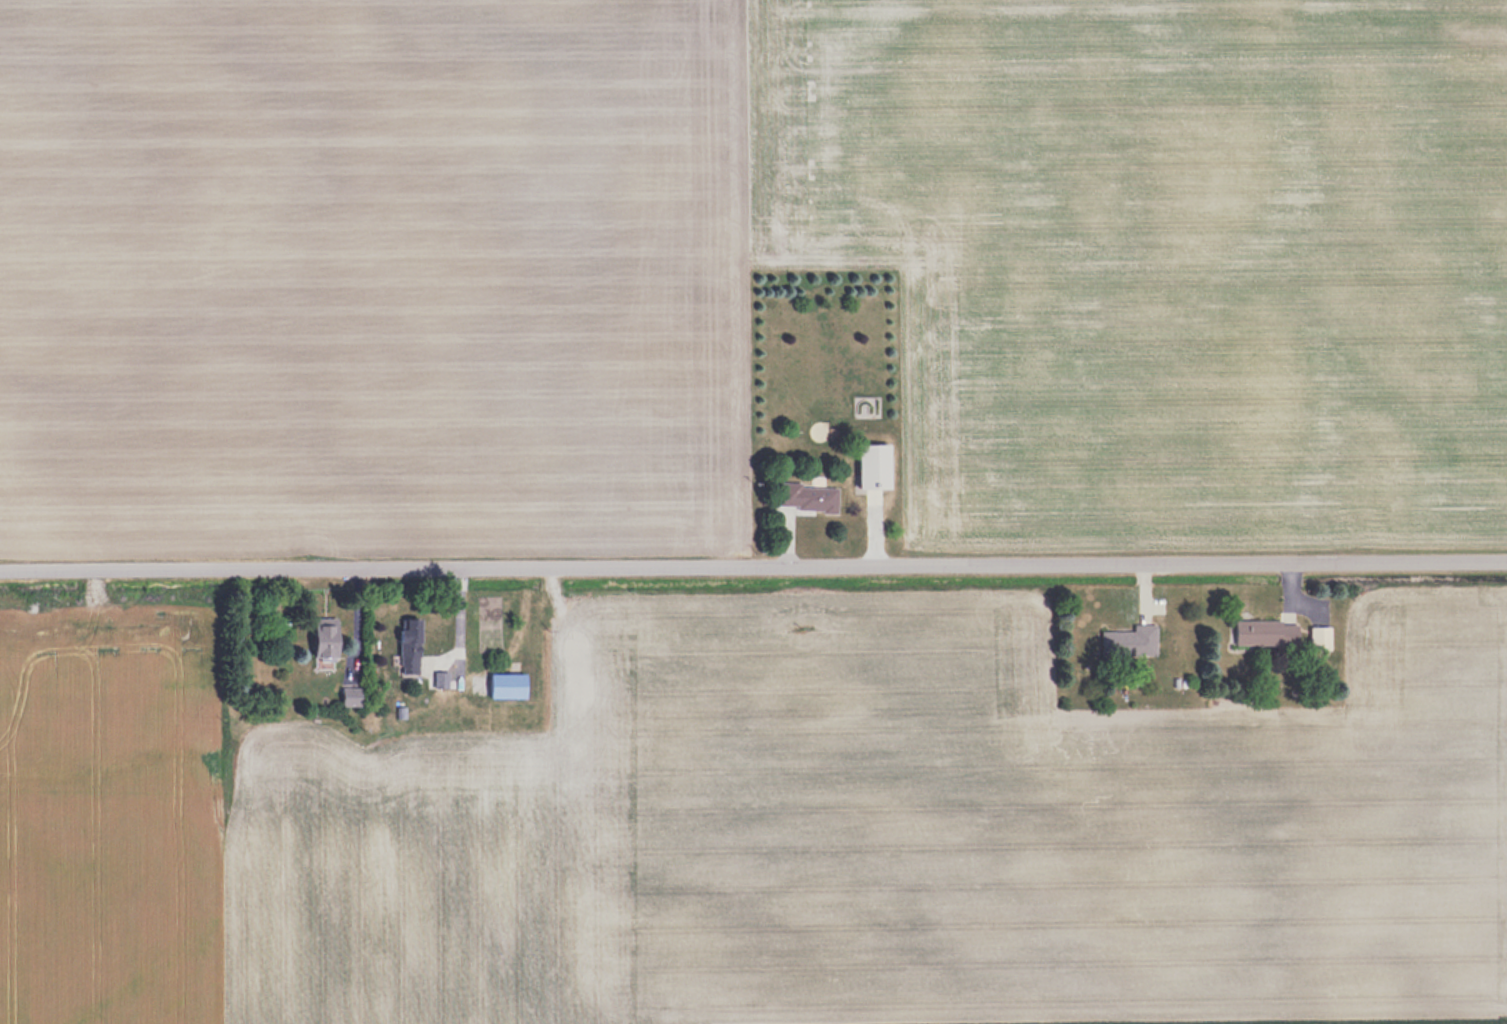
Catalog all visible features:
building: (873, 467)
building: (809, 497)
road: (753, 573)
building: (1265, 632)
building: (1319, 638)
building: (325, 641)
building: (1128, 641)
building: (409, 648)
building: (348, 697)

